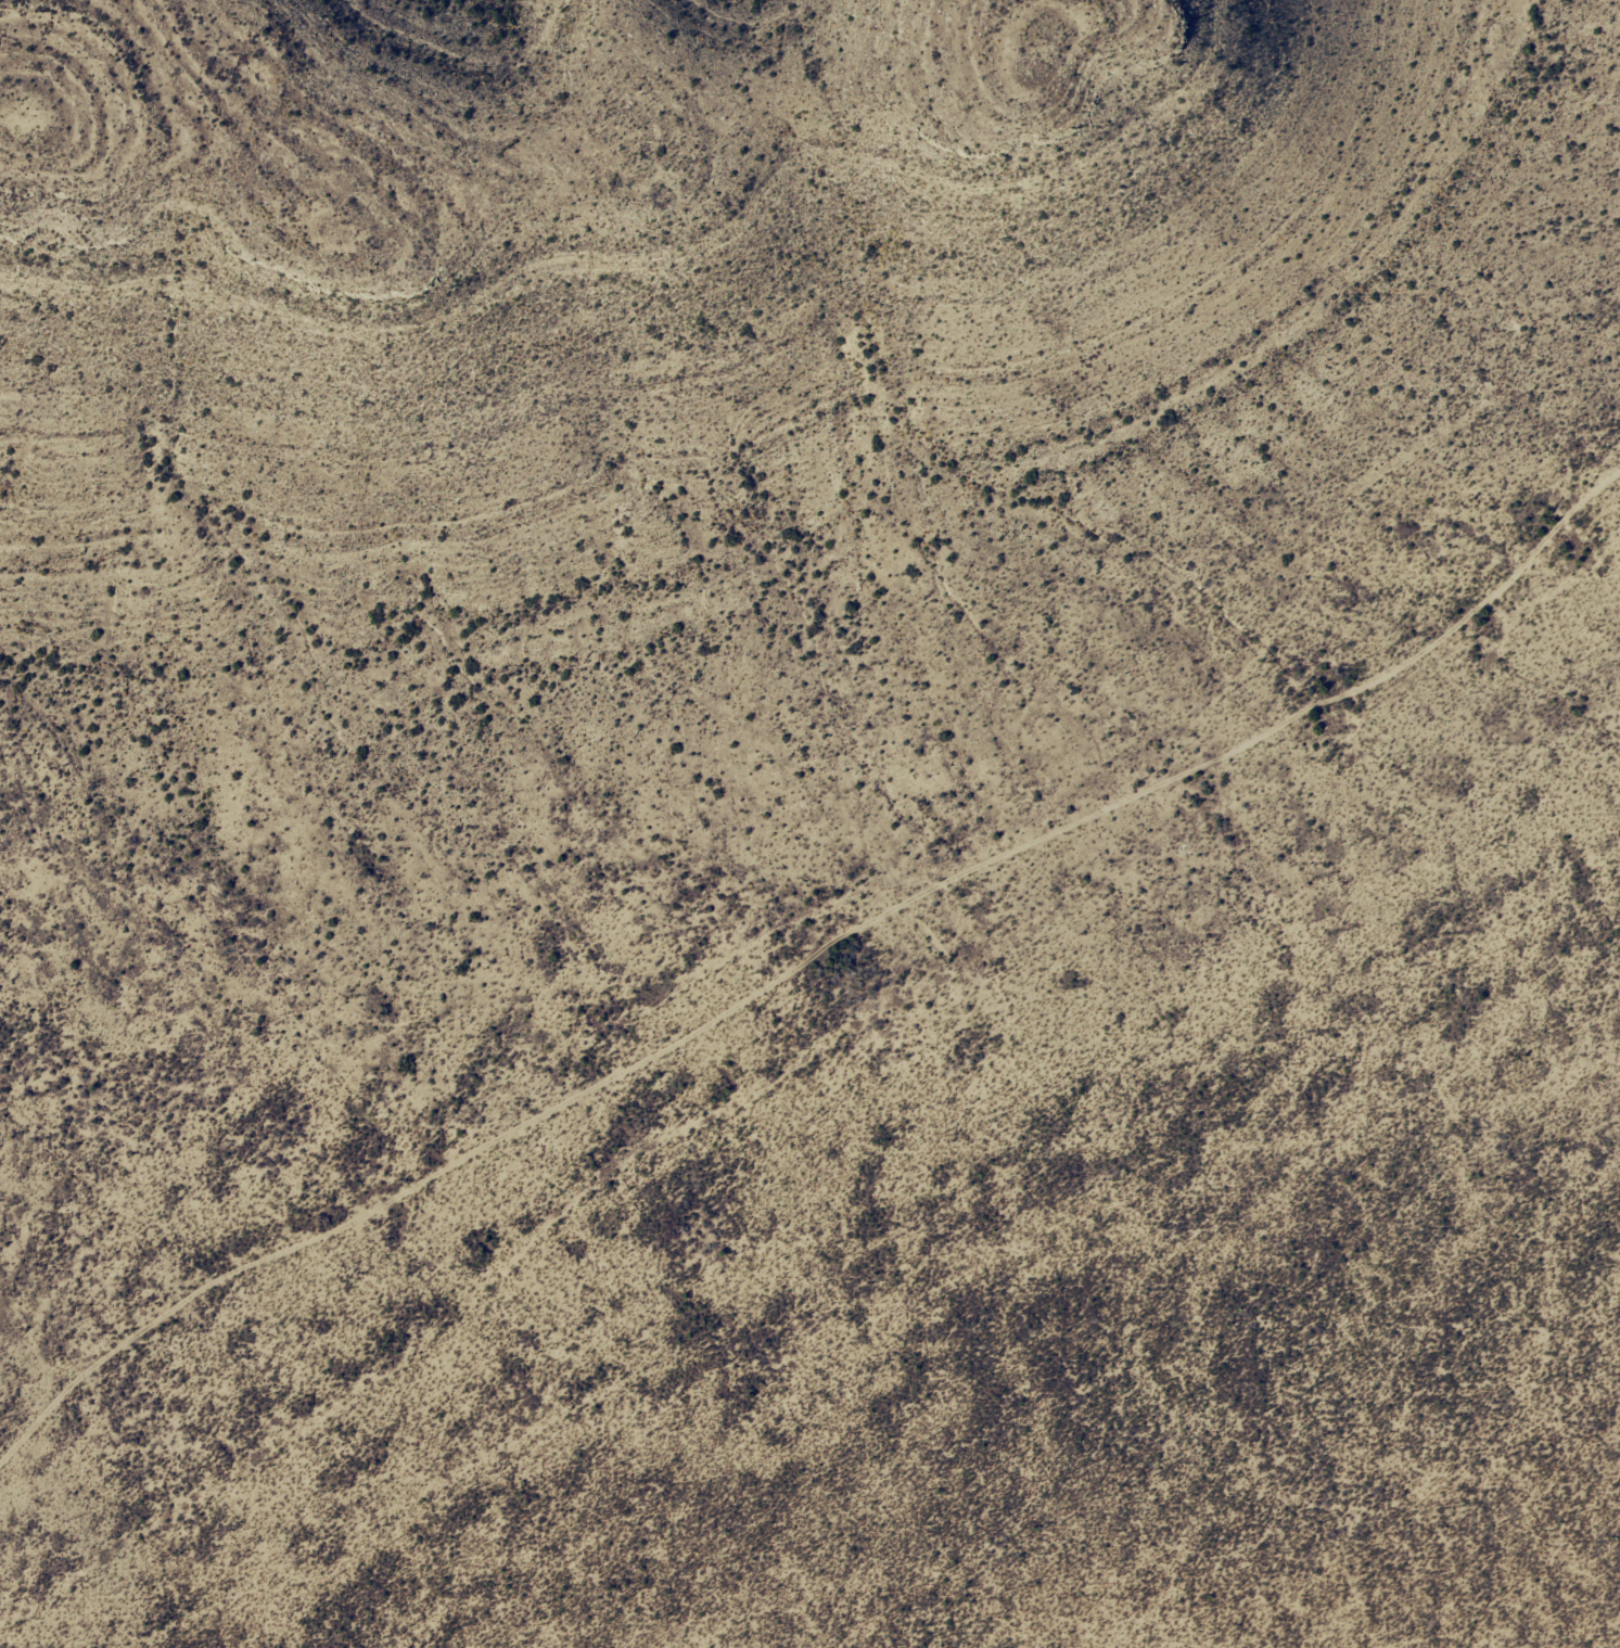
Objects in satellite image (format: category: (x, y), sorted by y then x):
road: (802, 980)

